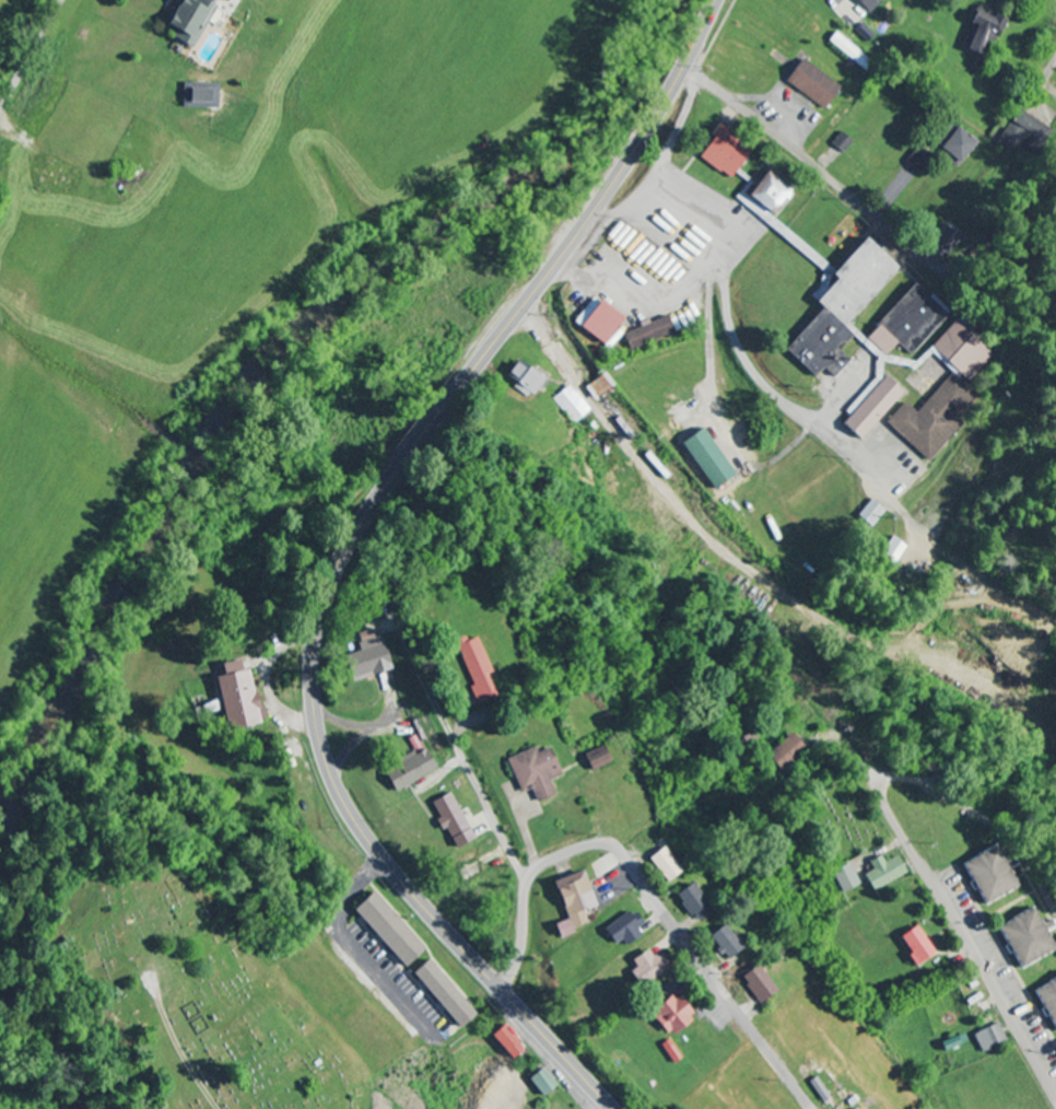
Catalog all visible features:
building: (223, 0)
building: (867, 3)
building: (187, 20)
building: (979, 30)
building: (847, 50)
road: (31, 57)
road: (1045, 77)
building: (810, 83)
building: (200, 95)
building: (1017, 132)
building: (840, 142)
building: (951, 142)
building: (723, 152)
road: (808, 164)
building: (766, 194)
building: (943, 243)
building: (829, 297)
building: (907, 323)
building: (600, 324)
building: (647, 332)
road: (736, 340)
building: (524, 380)
building: (600, 386)
building: (942, 395)
building: (572, 405)
building: (869, 408)
building: (706, 458)
building: (869, 514)
building: (890, 551)
road: (344, 552)
building: (365, 657)
building: (474, 668)
building: (235, 698)
building: (784, 752)
building: (594, 759)
building: (408, 770)
building: (533, 772)
park: (826, 808)
road: (493, 817)
building: (450, 819)
building: (662, 865)
building: (881, 873)
building: (984, 877)
building: (843, 878)
road: (648, 896)
building: (572, 902)
building: (691, 903)
building: (384, 930)
building: (622, 930)
building: (1023, 937)
road: (972, 942)
building: (723, 943)
building: (913, 946)
building: (647, 967)
building: (755, 985)
park: (199, 993)
building: (439, 994)
building: (1047, 1003)
building: (668, 1016)
building: (988, 1038)
building: (505, 1042)
building: (952, 1043)
building: (540, 1083)
building: (817, 1089)

